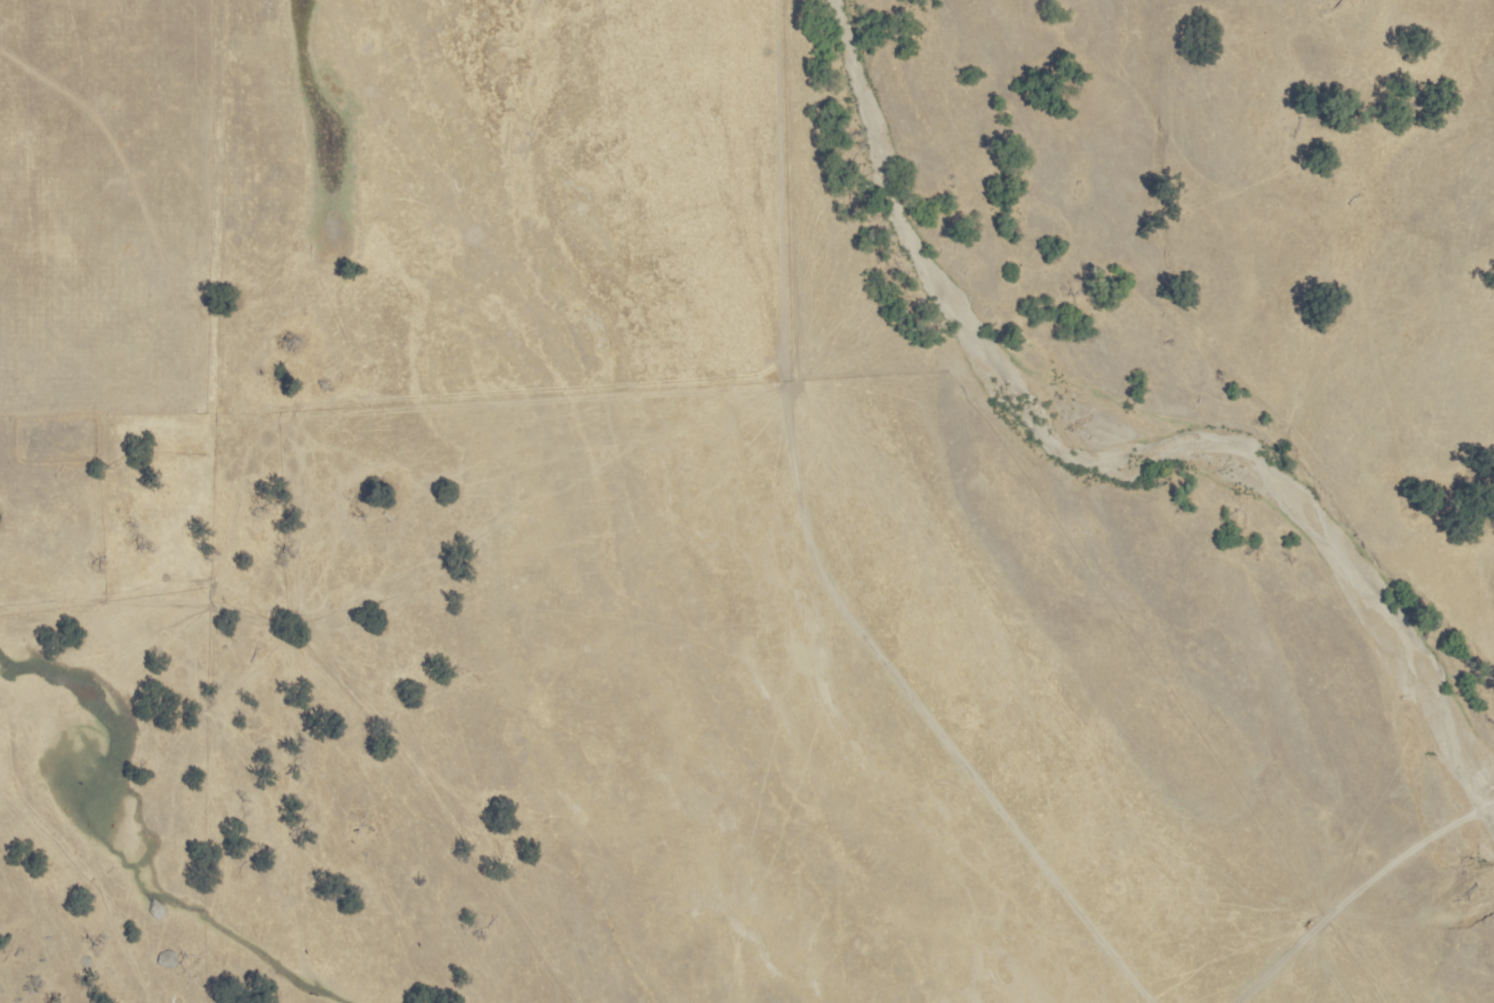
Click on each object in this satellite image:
crop: (1315, 276)
crop: (509, 559)
road: (1356, 890)

